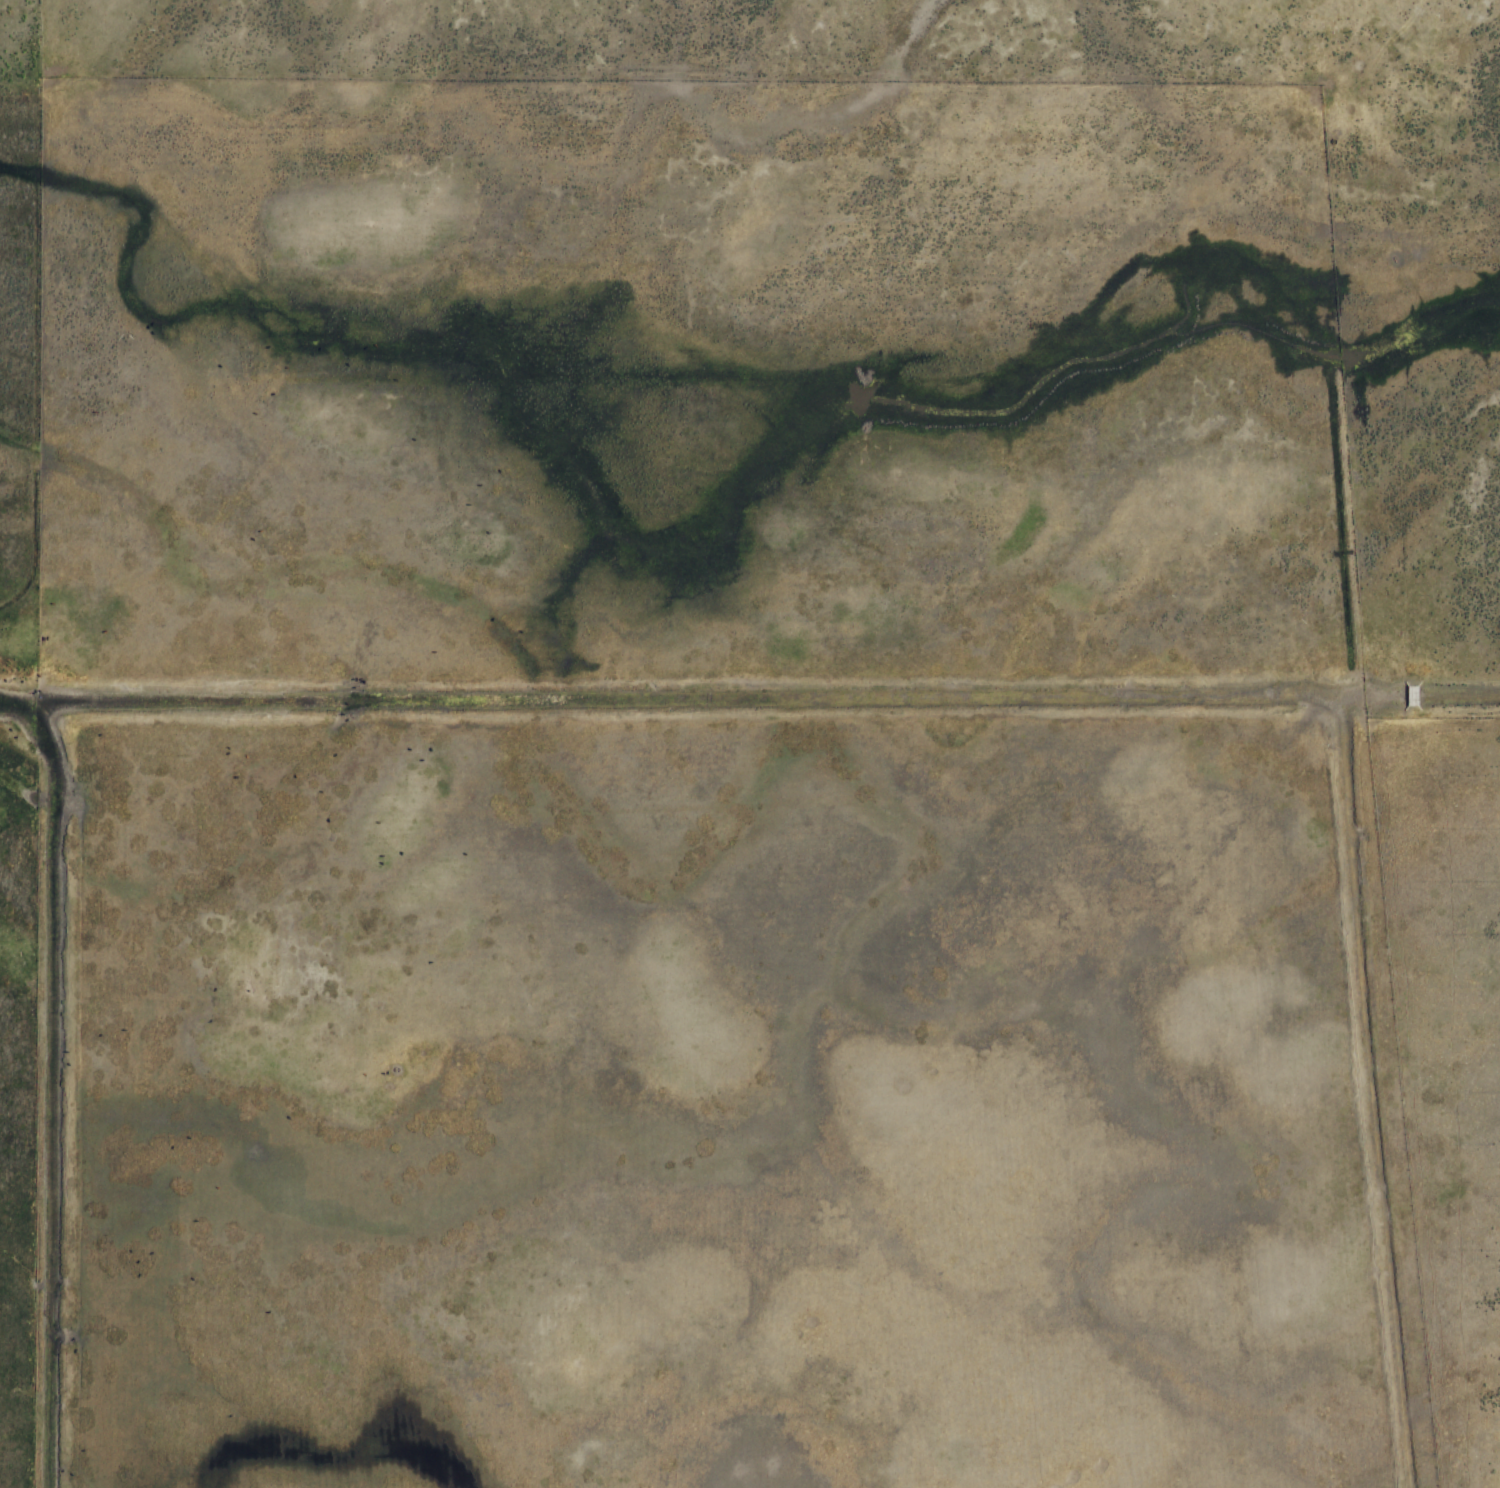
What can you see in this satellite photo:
crop: (750, 744)

